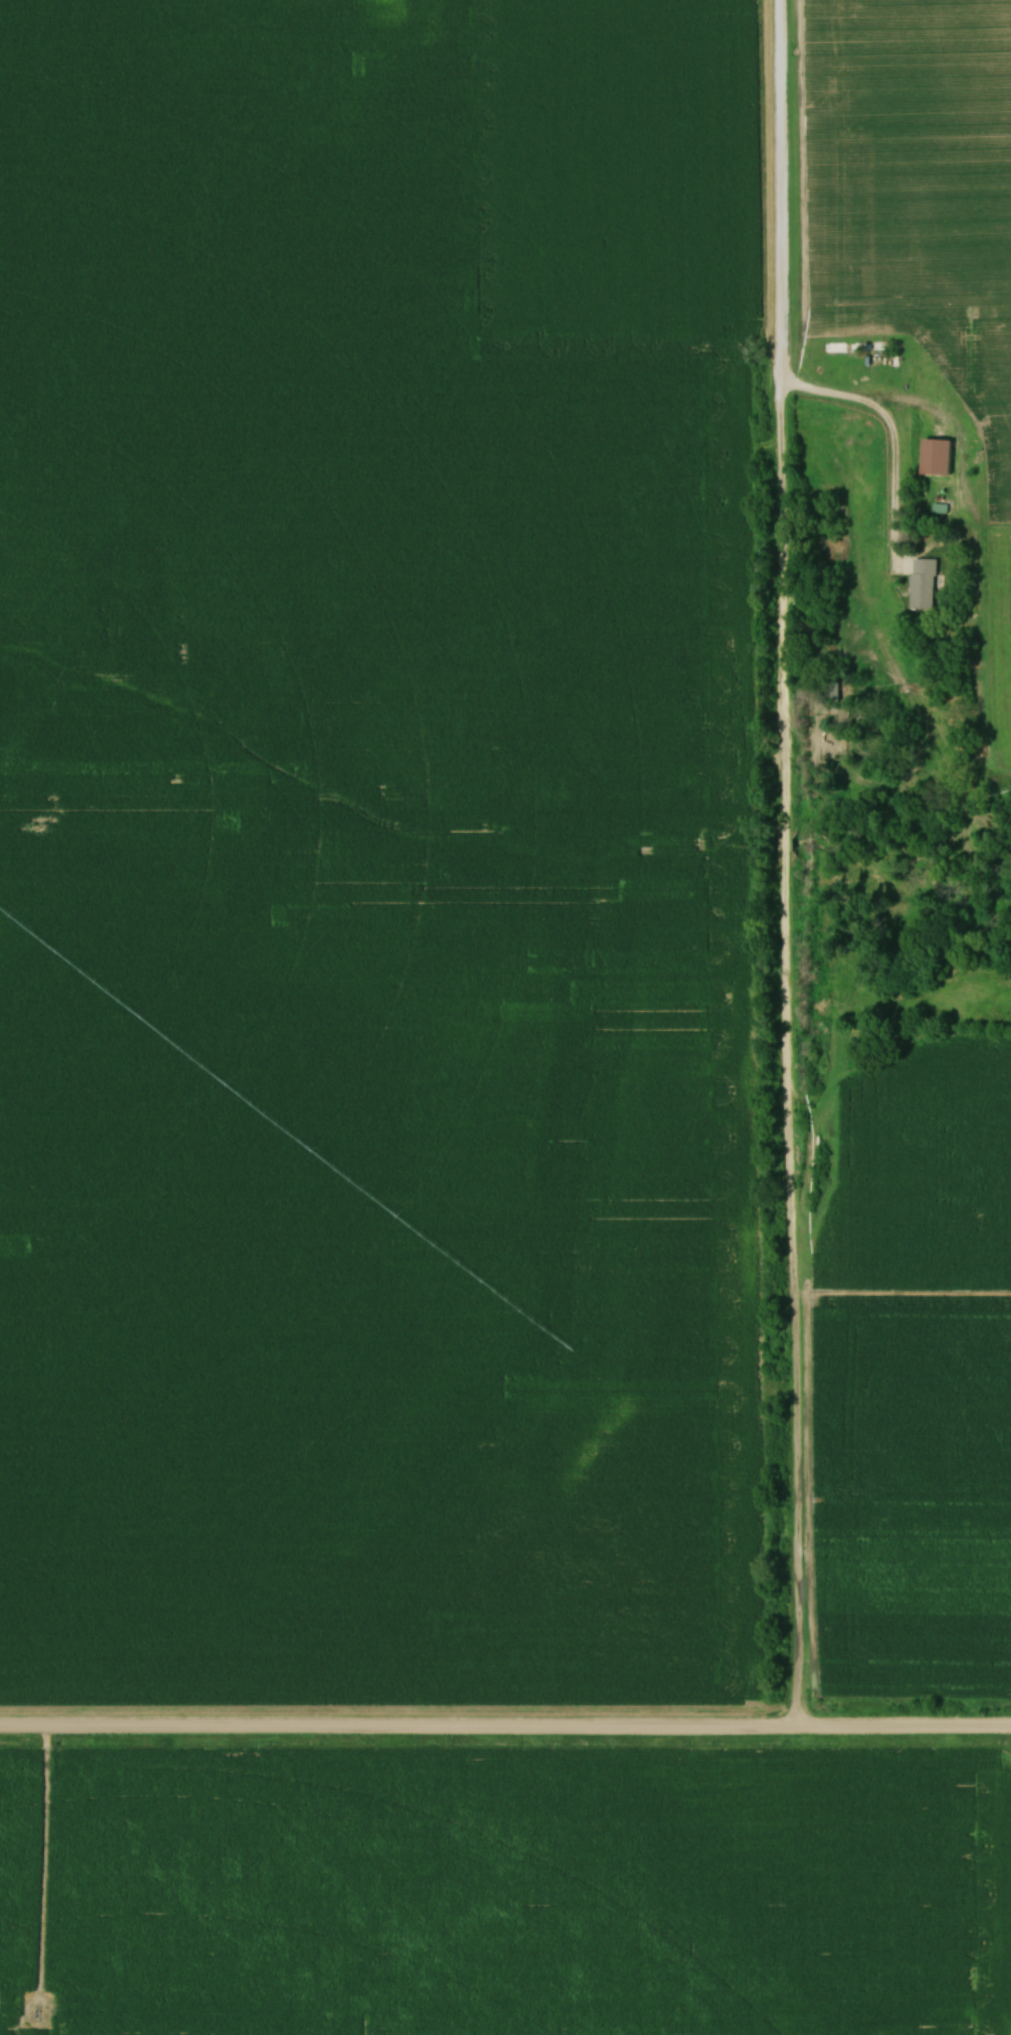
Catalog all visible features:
road: (889, 435)
building: (925, 584)
road: (781, 865)
road: (505, 1730)

